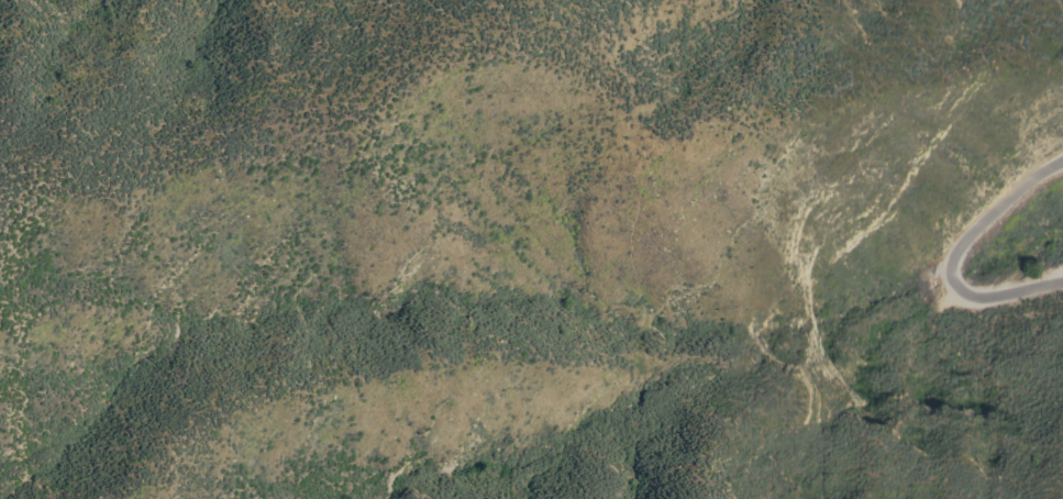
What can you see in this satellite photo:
road: (965, 263)

